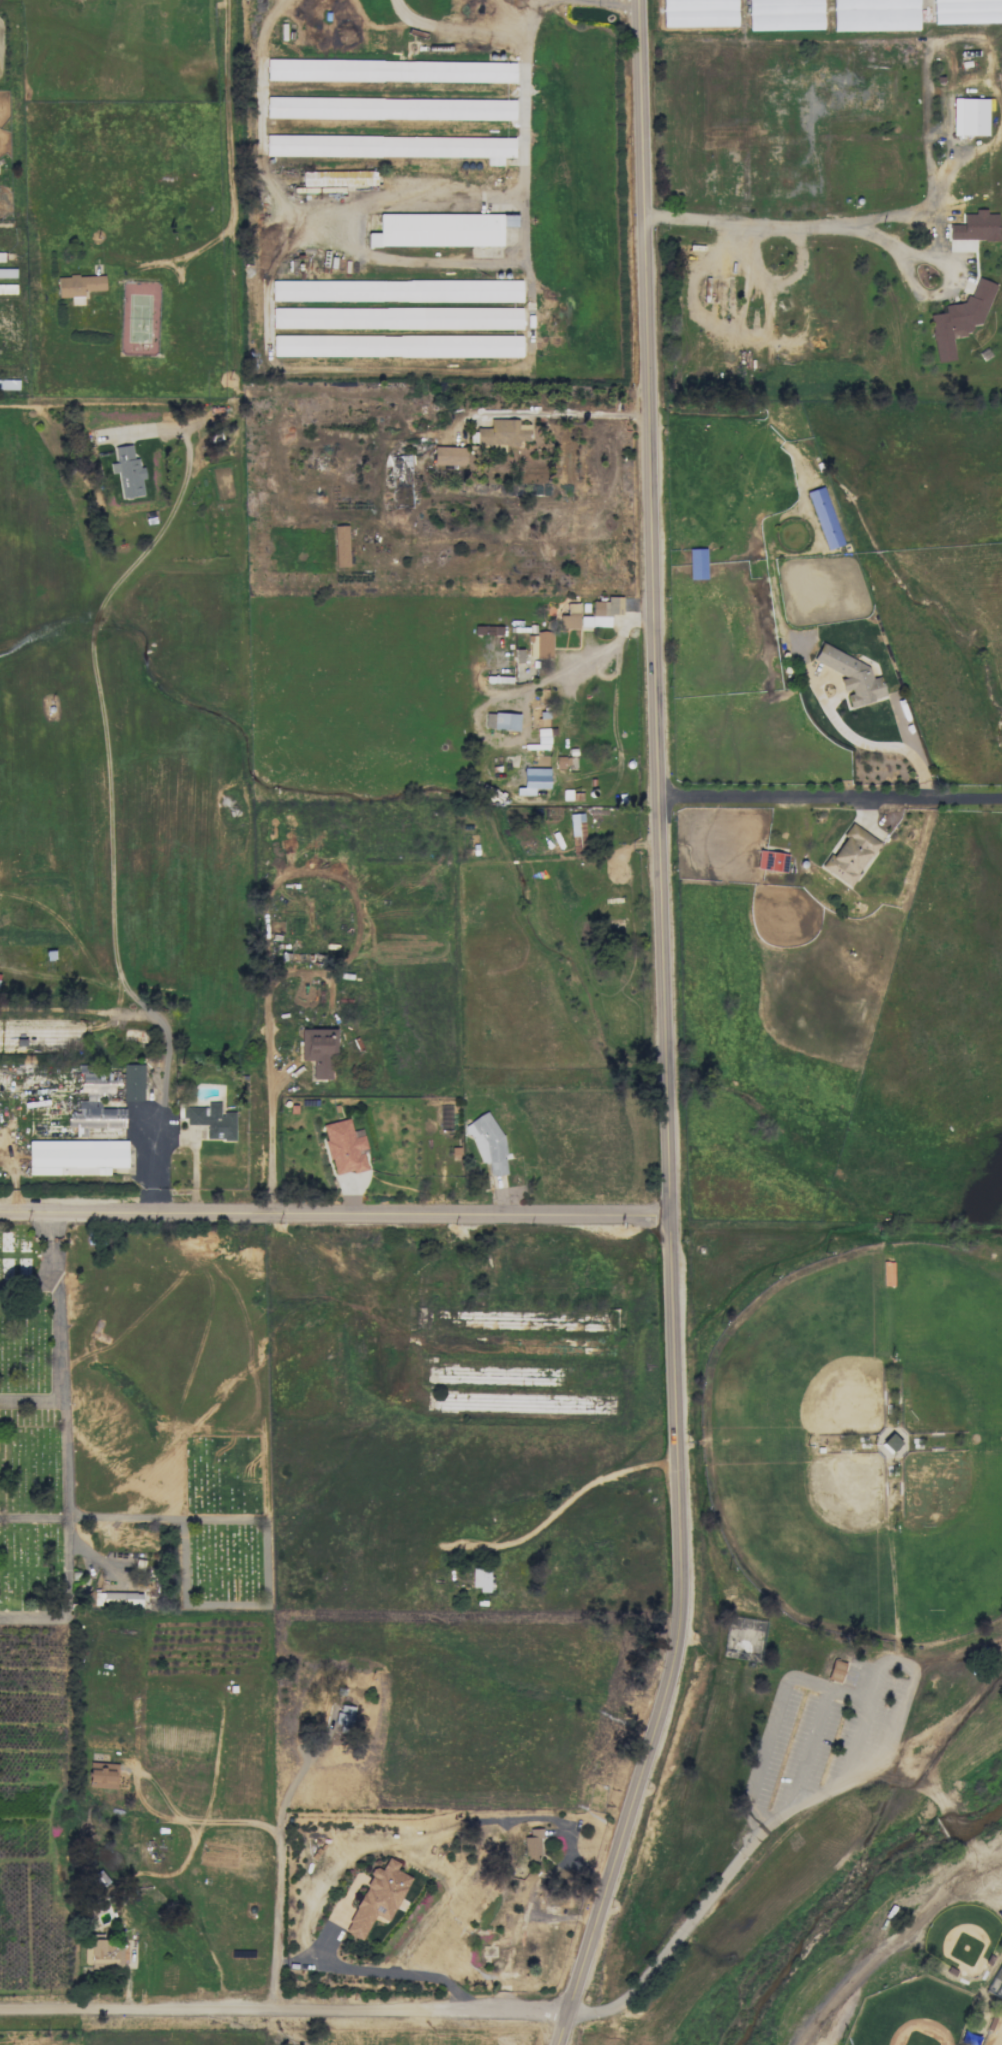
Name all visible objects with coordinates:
road: (615, 3)
road: (476, 31)
building: (391, 70)
building: (390, 108)
road: (225, 110)
building: (969, 116)
road: (995, 135)
building: (392, 146)
building: (338, 178)
road: (525, 189)
road: (844, 223)
building: (975, 226)
building: (440, 229)
building: (1, 256)
road: (170, 259)
building: (7, 273)
building: (78, 286)
building: (6, 288)
building: (396, 290)
building: (396, 318)
building: (959, 319)
building: (396, 346)
road: (587, 411)
building: (502, 432)
building: (448, 456)
building: (400, 468)
building: (127, 471)
building: (824, 517)
building: (341, 546)
building: (697, 563)
building: (602, 612)
building: (569, 617)
building: (487, 630)
building: (540, 645)
building: (518, 655)
road: (579, 658)
building: (850, 675)
building: (501, 721)
road: (880, 745)
building: (562, 761)
building: (533, 780)
building: (566, 794)
road: (831, 796)
road: (113, 813)
building: (577, 831)
building: (849, 855)
building: (771, 861)
road: (667, 1031)
building: (318, 1051)
building: (132, 1082)
building: (95, 1104)
building: (211, 1120)
building: (487, 1143)
road: (275, 1145)
building: (344, 1147)
building: (75, 1157)
road: (336, 1211)
building: (887, 1273)
road: (28, 1280)
park: (950, 1338)
park: (803, 1352)
road: (32, 1400)
park: (132, 1419)
building: (891, 1442)
road: (65, 1445)
road: (33, 1517)
park: (810, 1523)
park: (951, 1537)
building: (480, 1578)
park: (825, 1638)
building: (835, 1670)
building: (344, 1715)
road: (769, 1719)
parking lot: (826, 1738)
road: (800, 1750)
road: (215, 1759)
building: (102, 1775)
road: (294, 1784)
road: (810, 1801)
road: (277, 1835)
building: (532, 1842)
building: (377, 1898)
road: (886, 1939)
building: (102, 1953)
road: (382, 1970)
park: (908, 2008)
road: (285, 2013)
park: (993, 2030)

